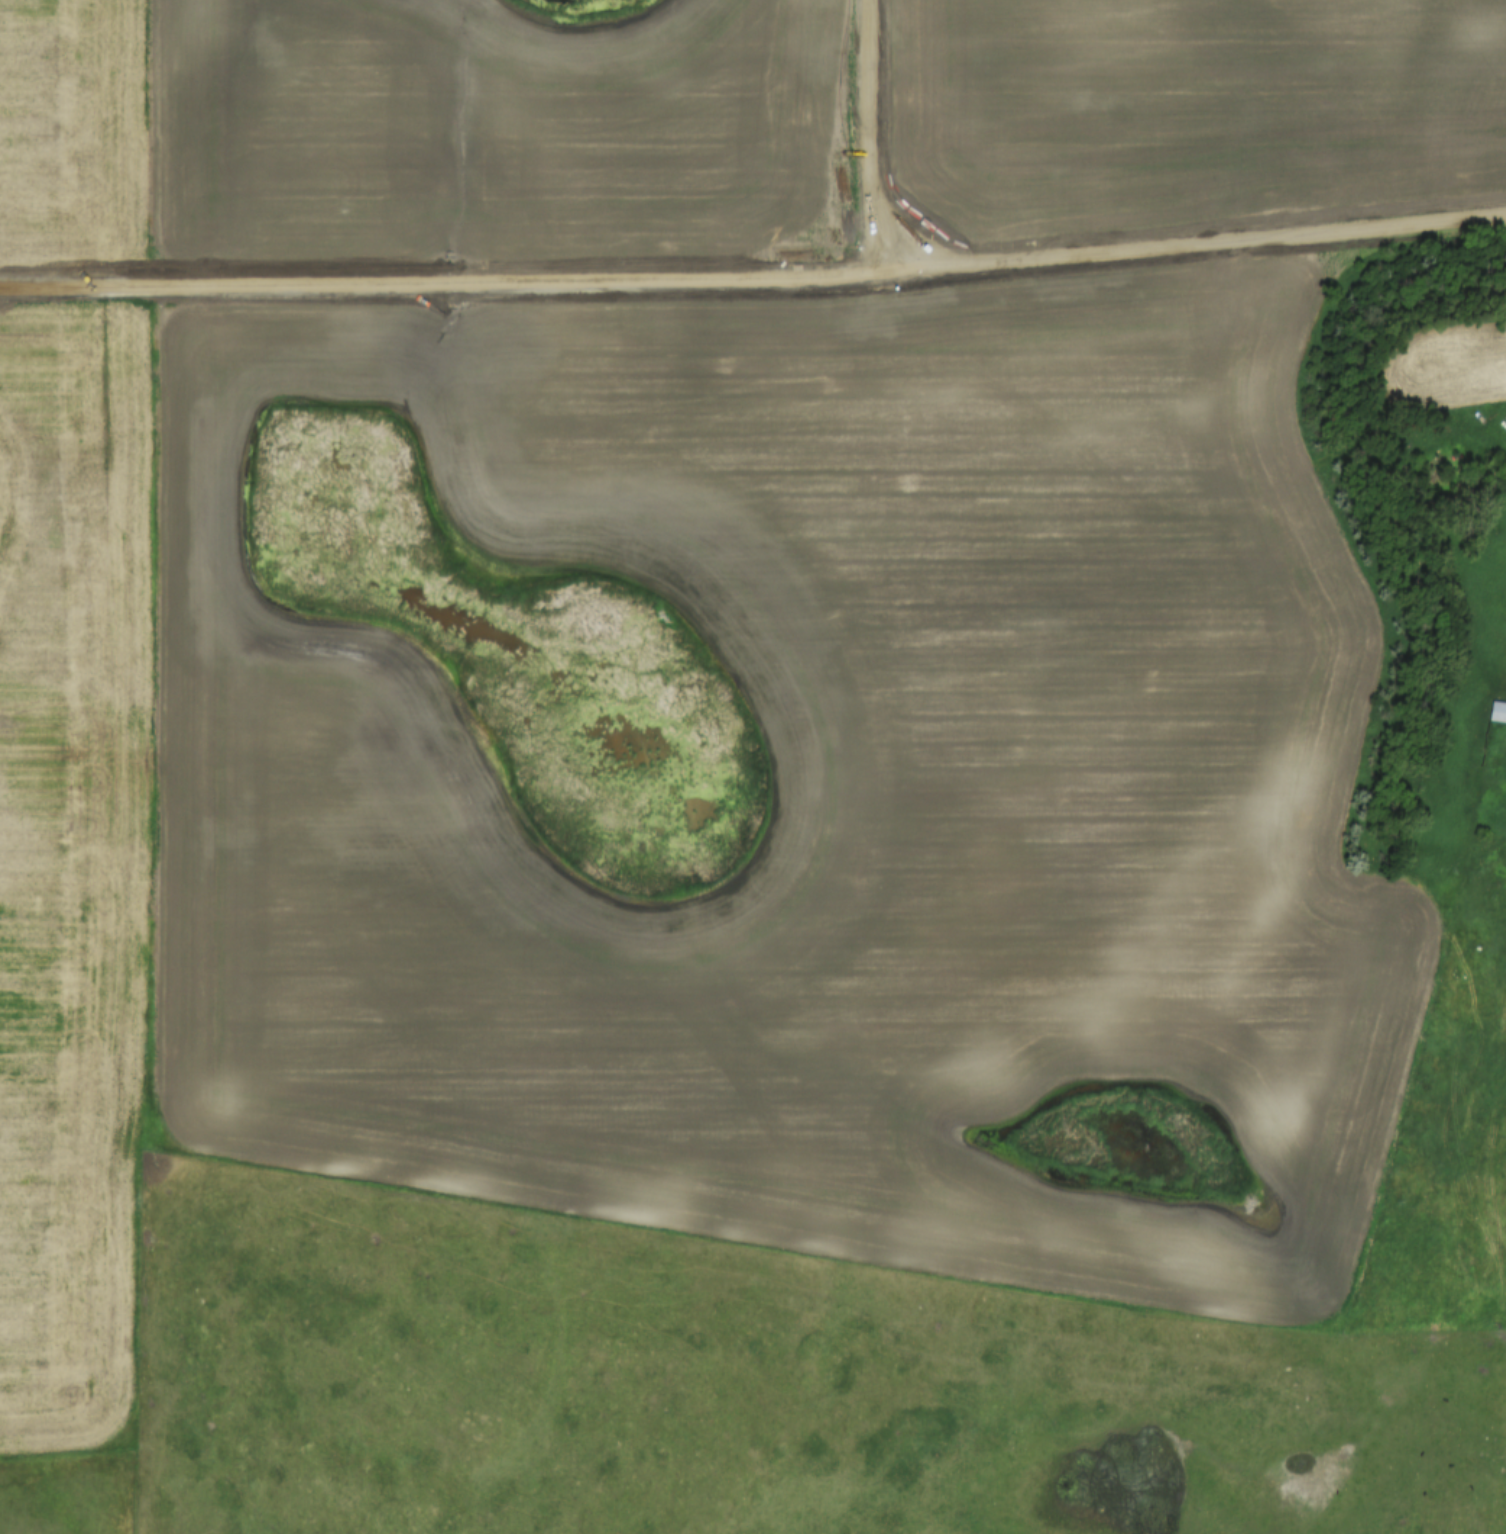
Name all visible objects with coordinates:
building: (1497, 712)

